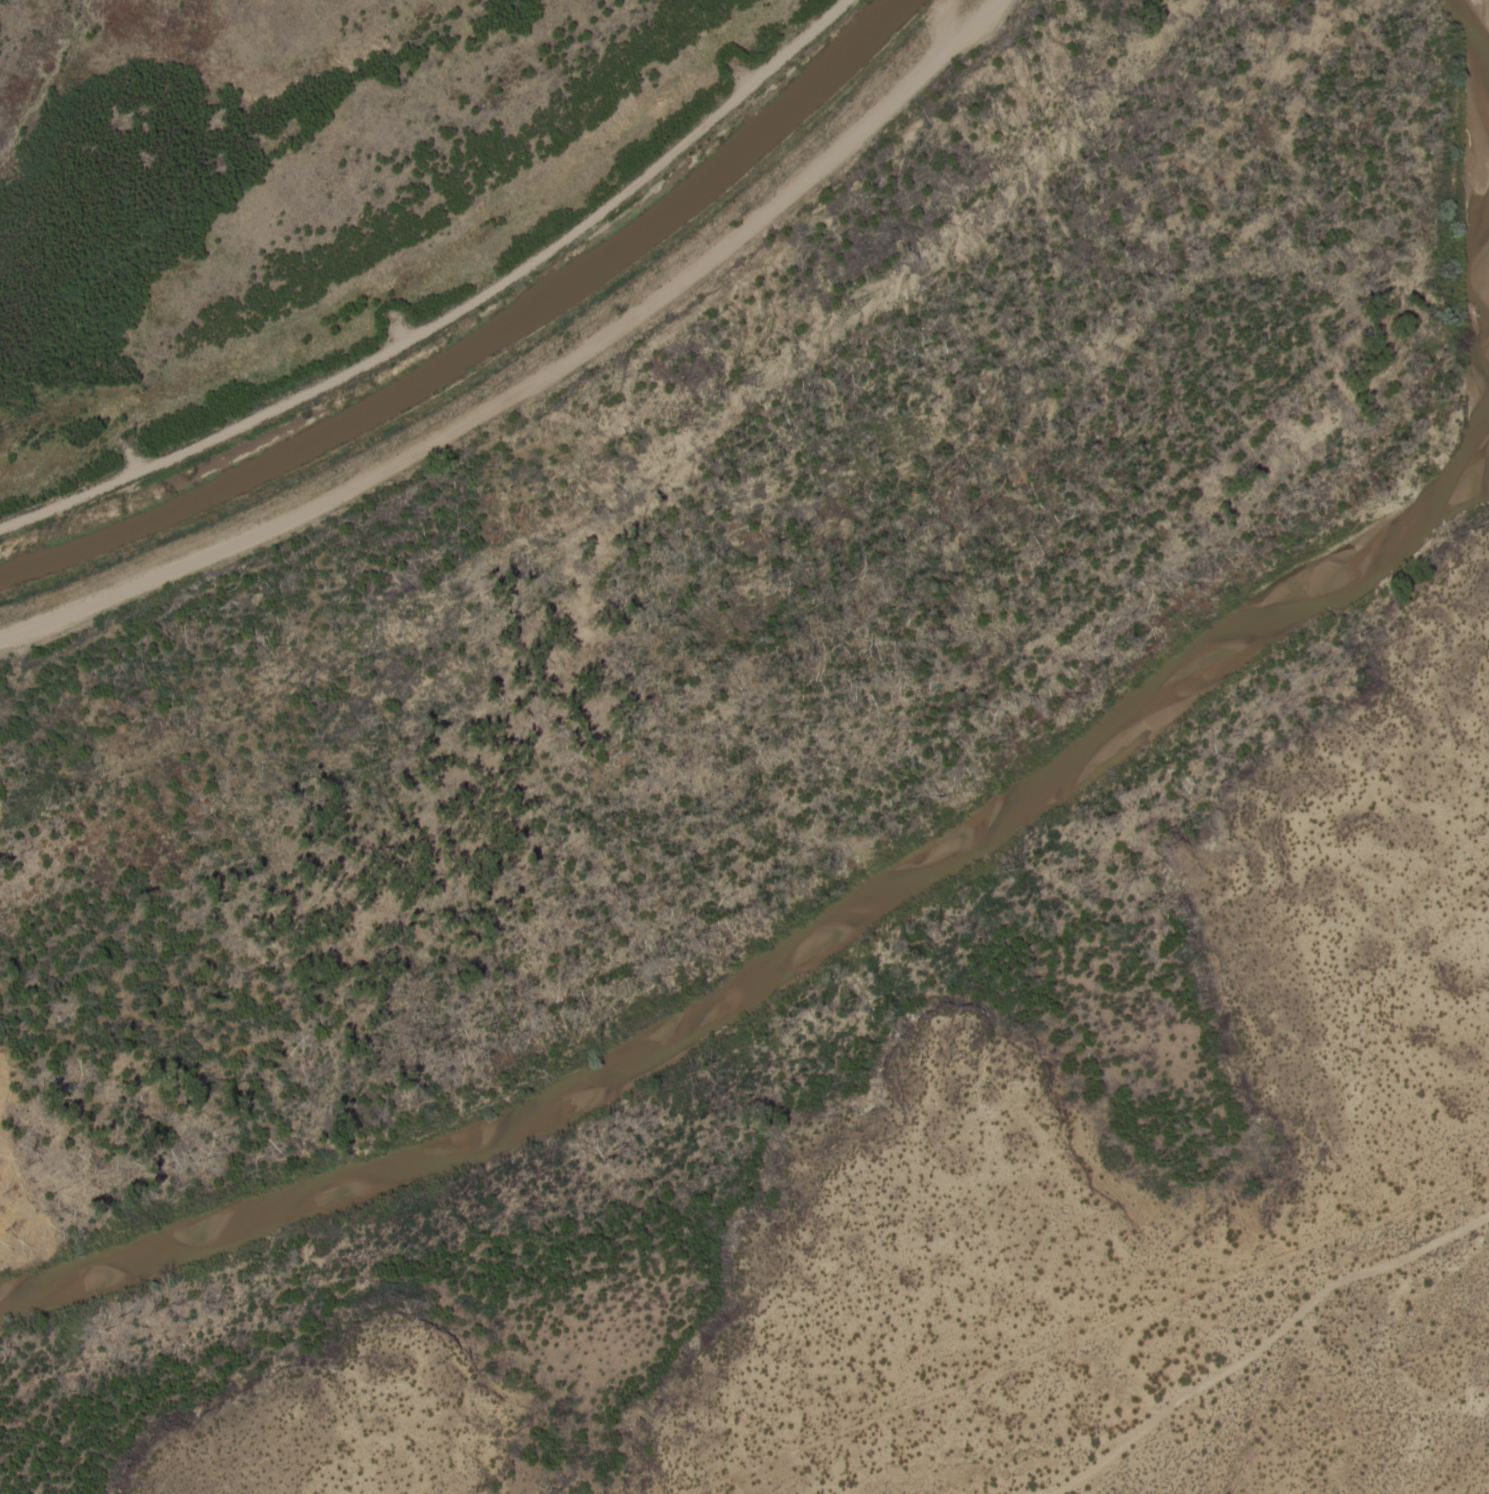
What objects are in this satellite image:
river: (1482, 66)
road: (452, 310)
road: (533, 378)
river: (790, 947)
road: (1253, 1356)

